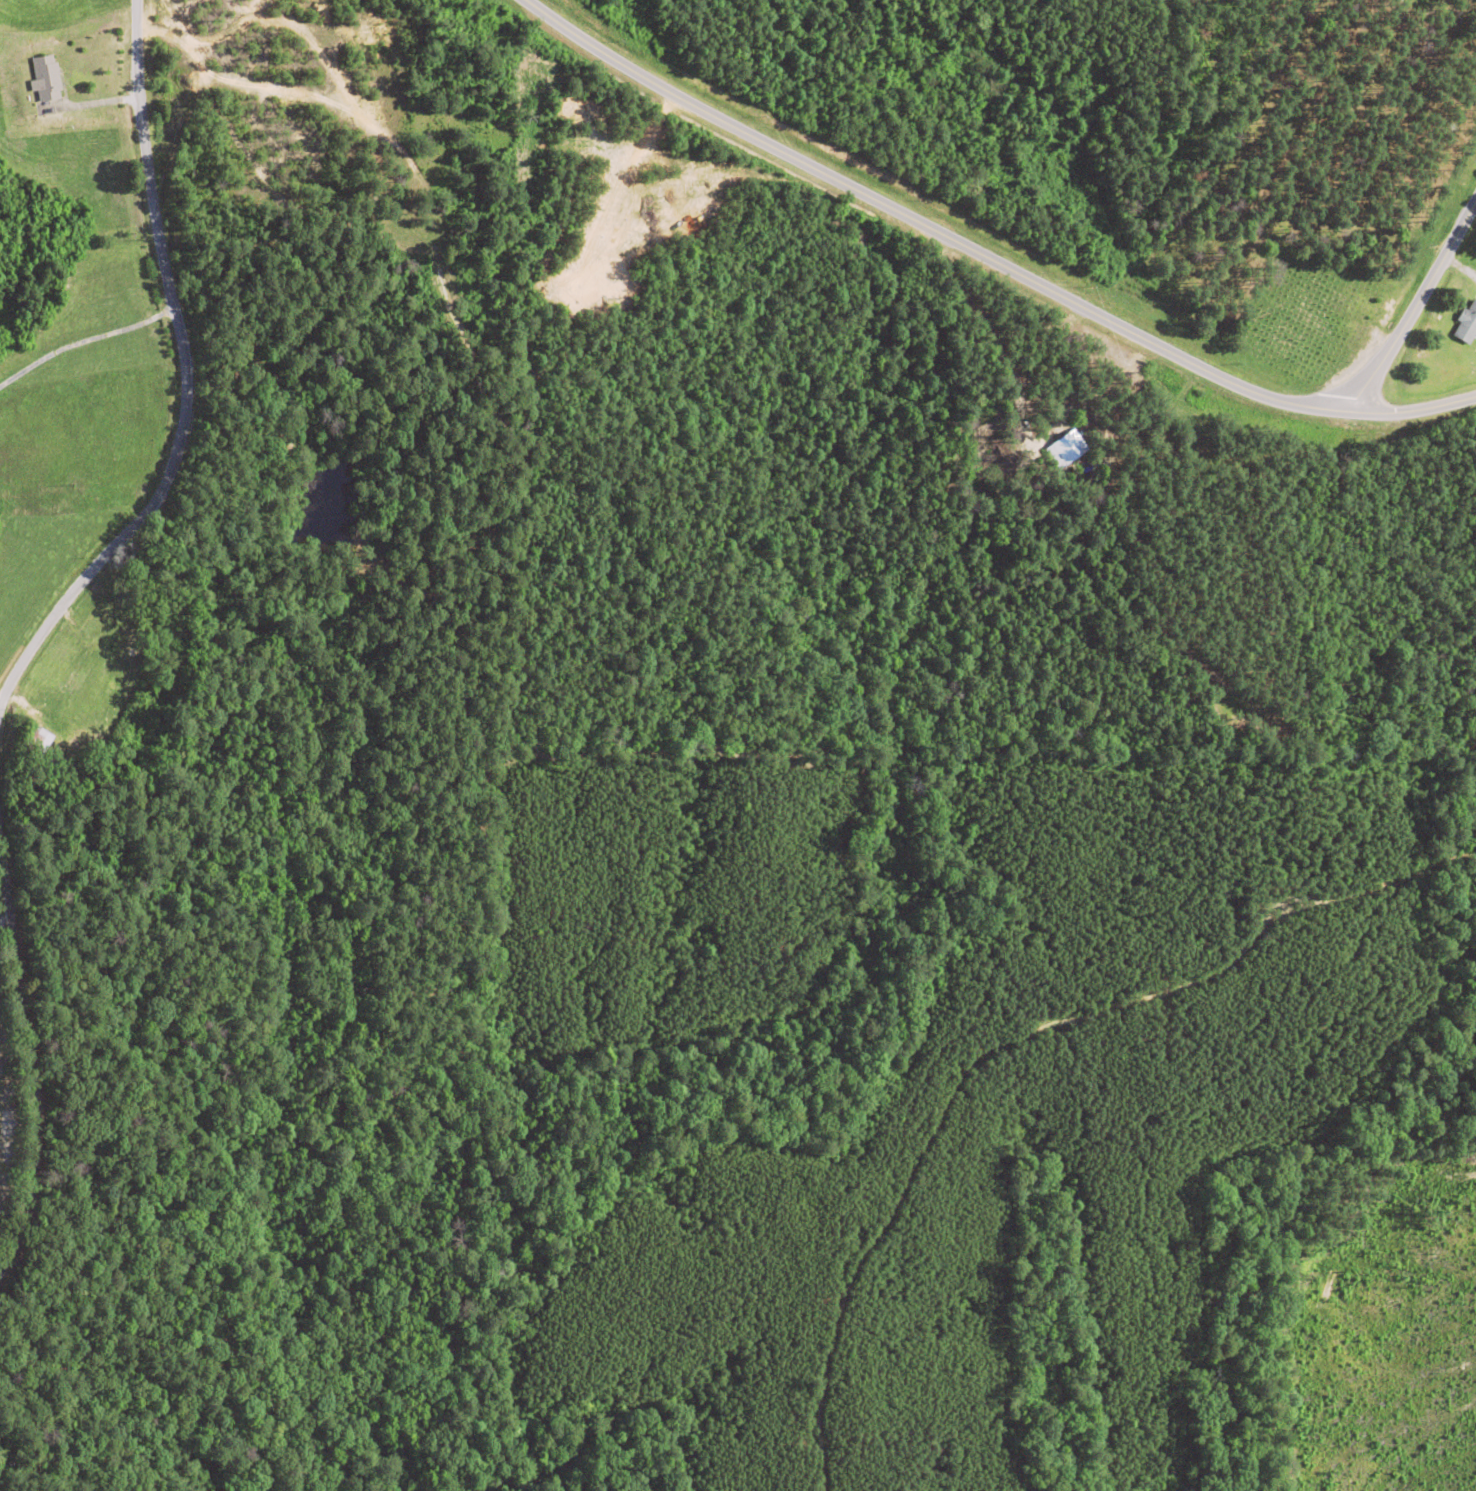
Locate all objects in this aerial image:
building: (50, 79)
road: (985, 254)
road: (1409, 310)
building: (1466, 324)
road: (167, 387)
building: (100, 614)
building: (34, 741)
road: (30, 1059)

